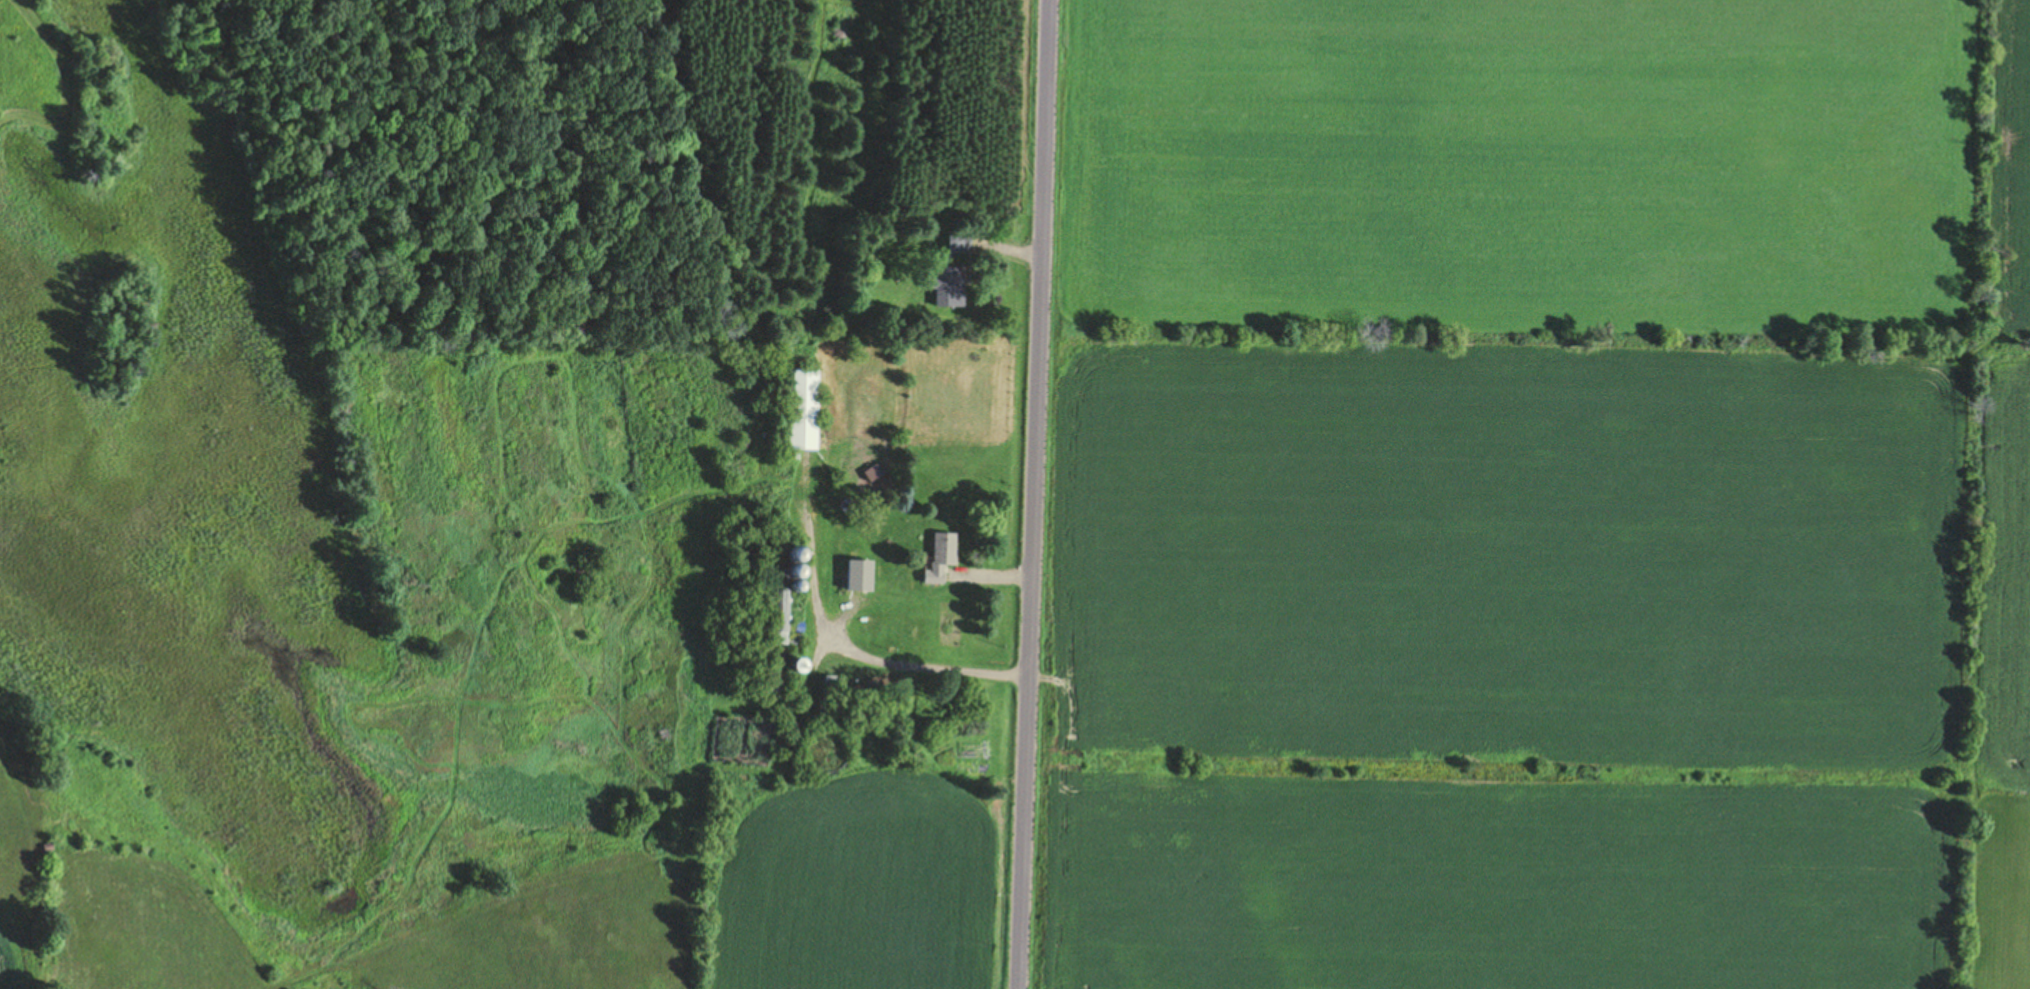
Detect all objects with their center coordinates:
building: (960, 243)
building: (950, 288)
building: (803, 410)
road: (1039, 494)
building: (943, 557)
building: (861, 575)
building: (776, 631)

